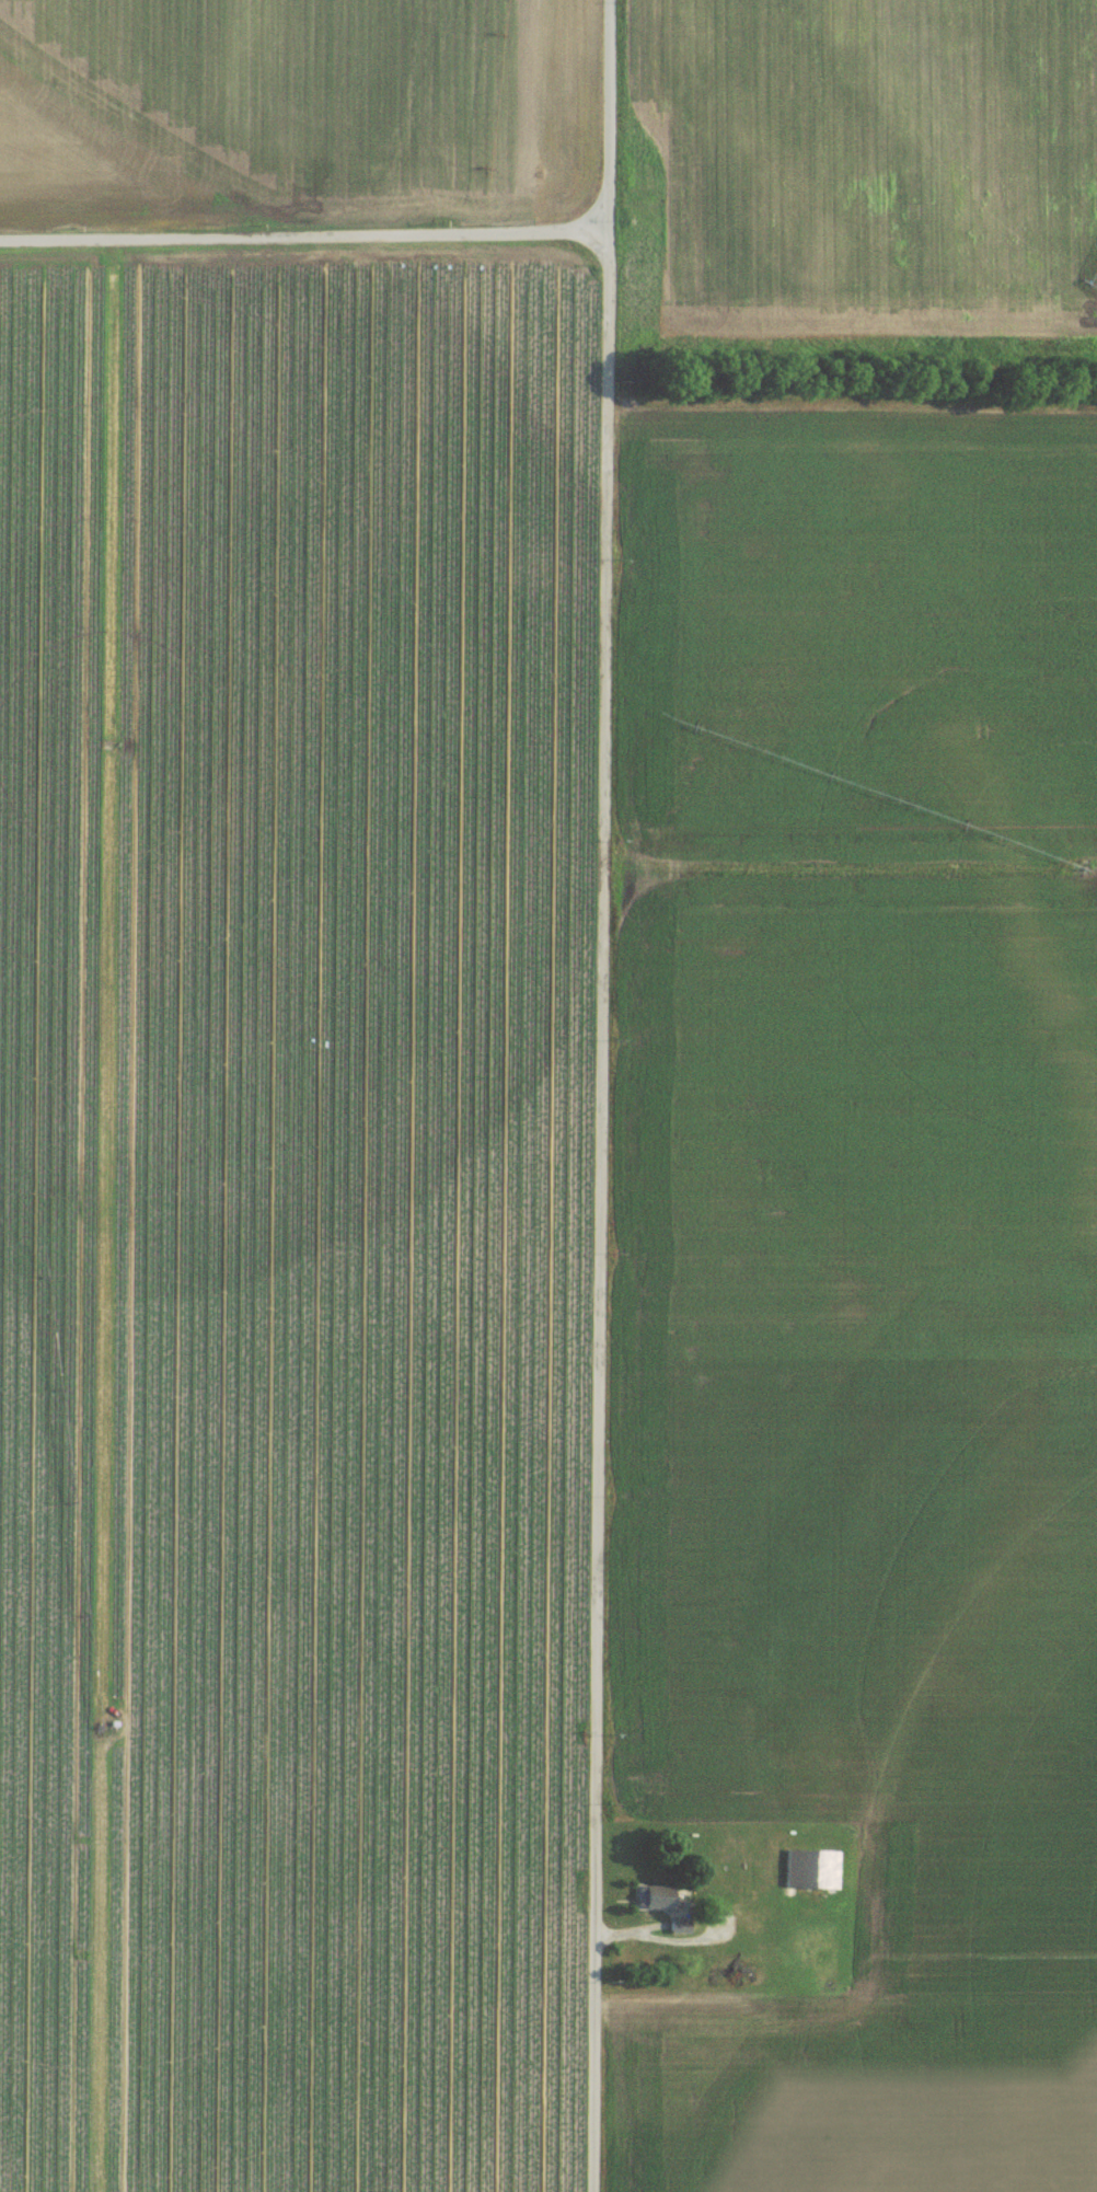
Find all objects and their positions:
road: (302, 235)
road: (609, 1095)
building: (810, 1879)
building: (654, 1906)

